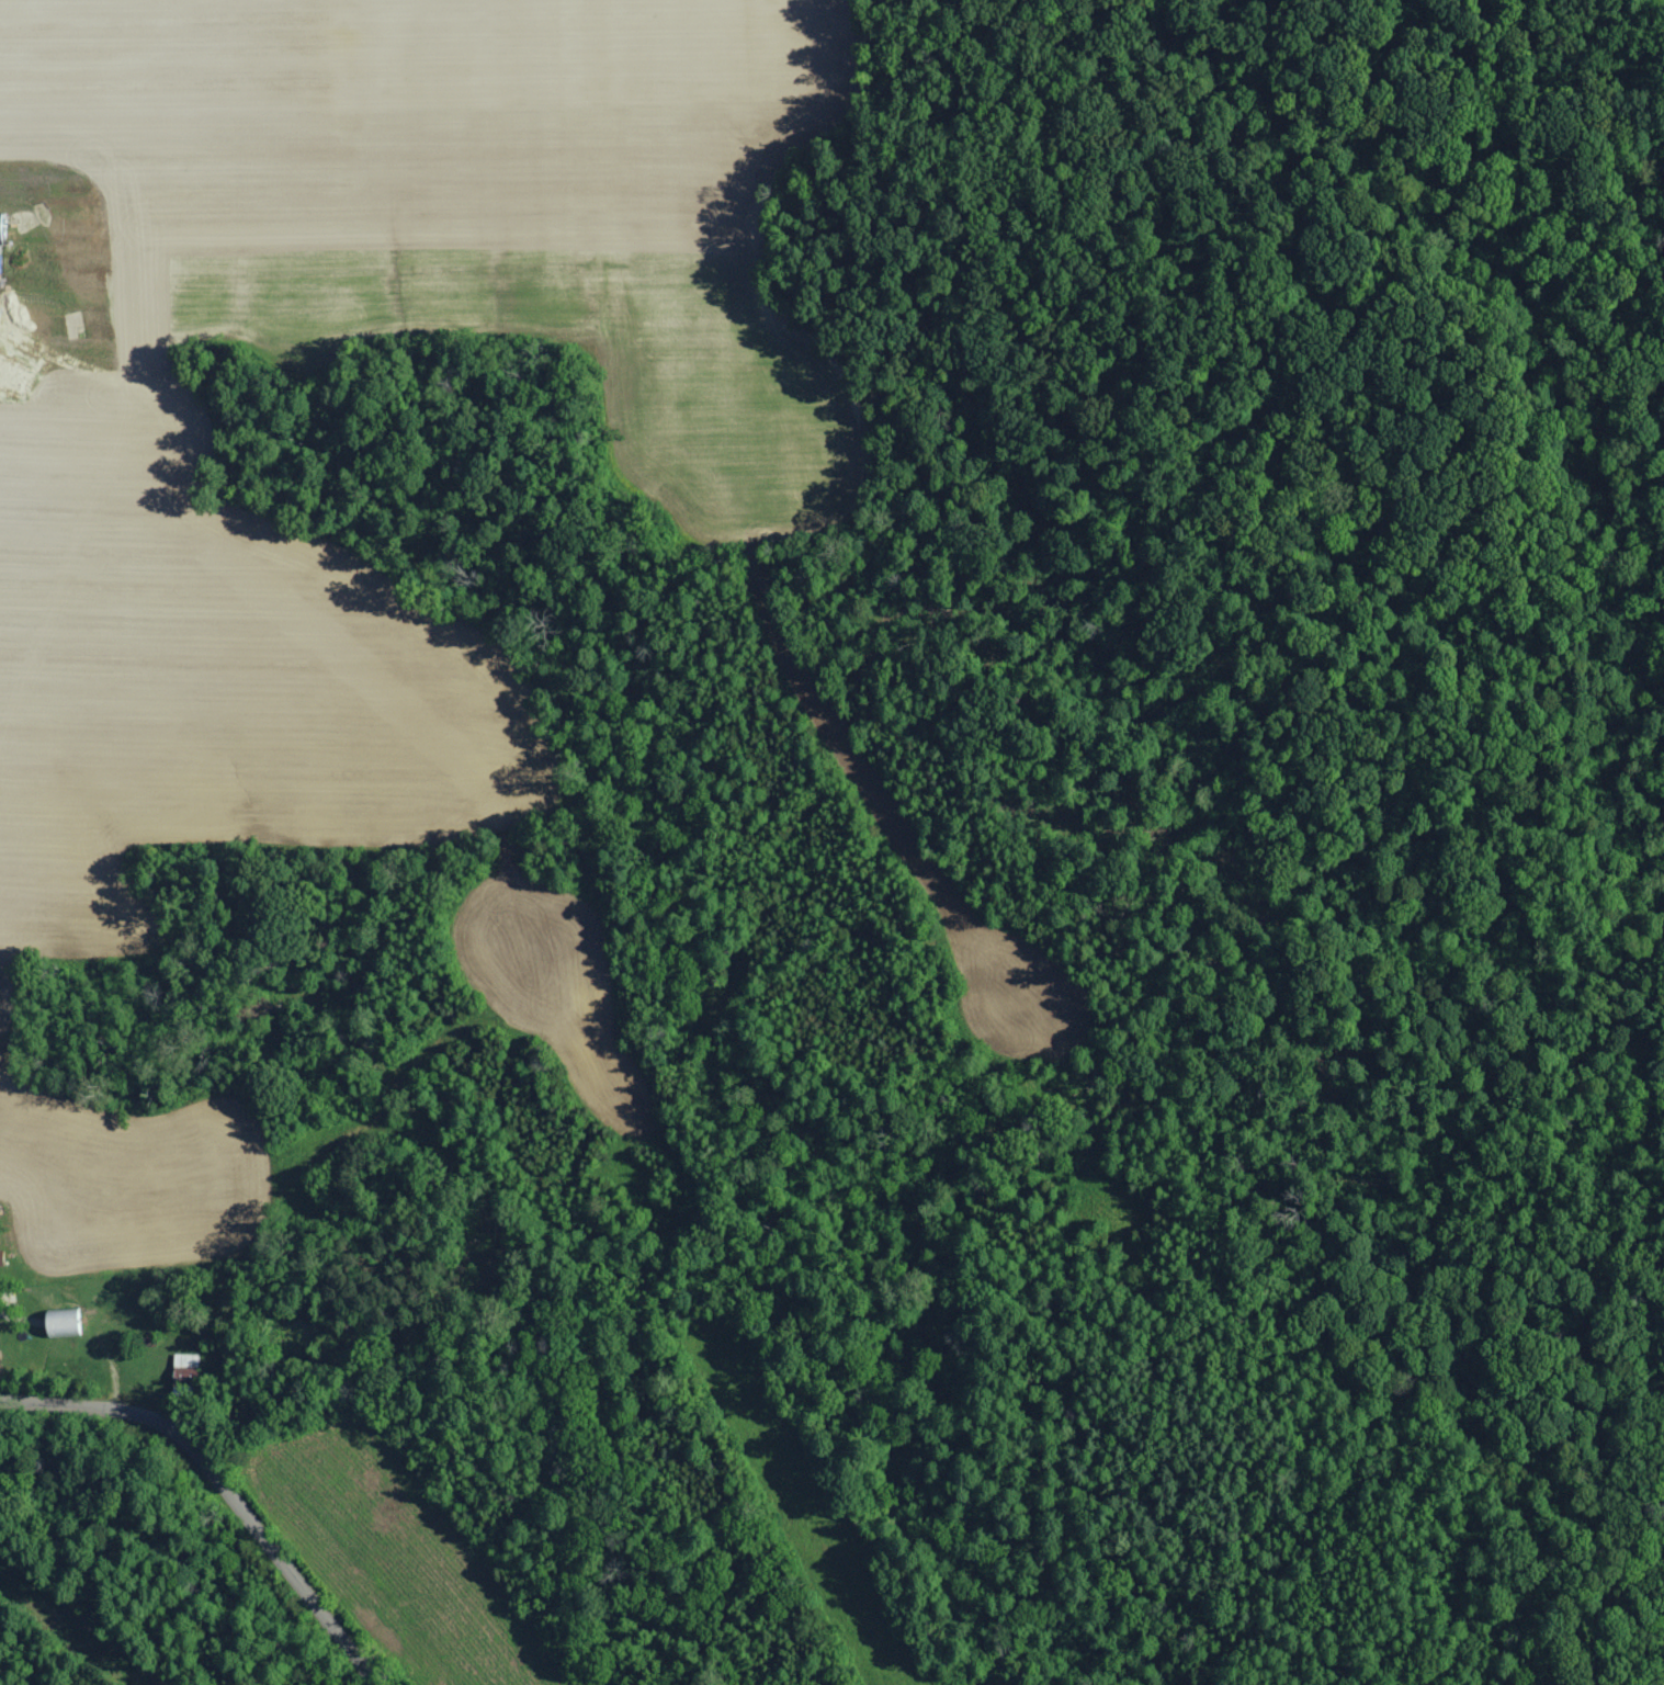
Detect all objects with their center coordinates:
building: (2, 227)
building: (3, 1262)
building: (67, 1322)
building: (186, 1373)
road: (113, 1410)
road: (291, 1574)

